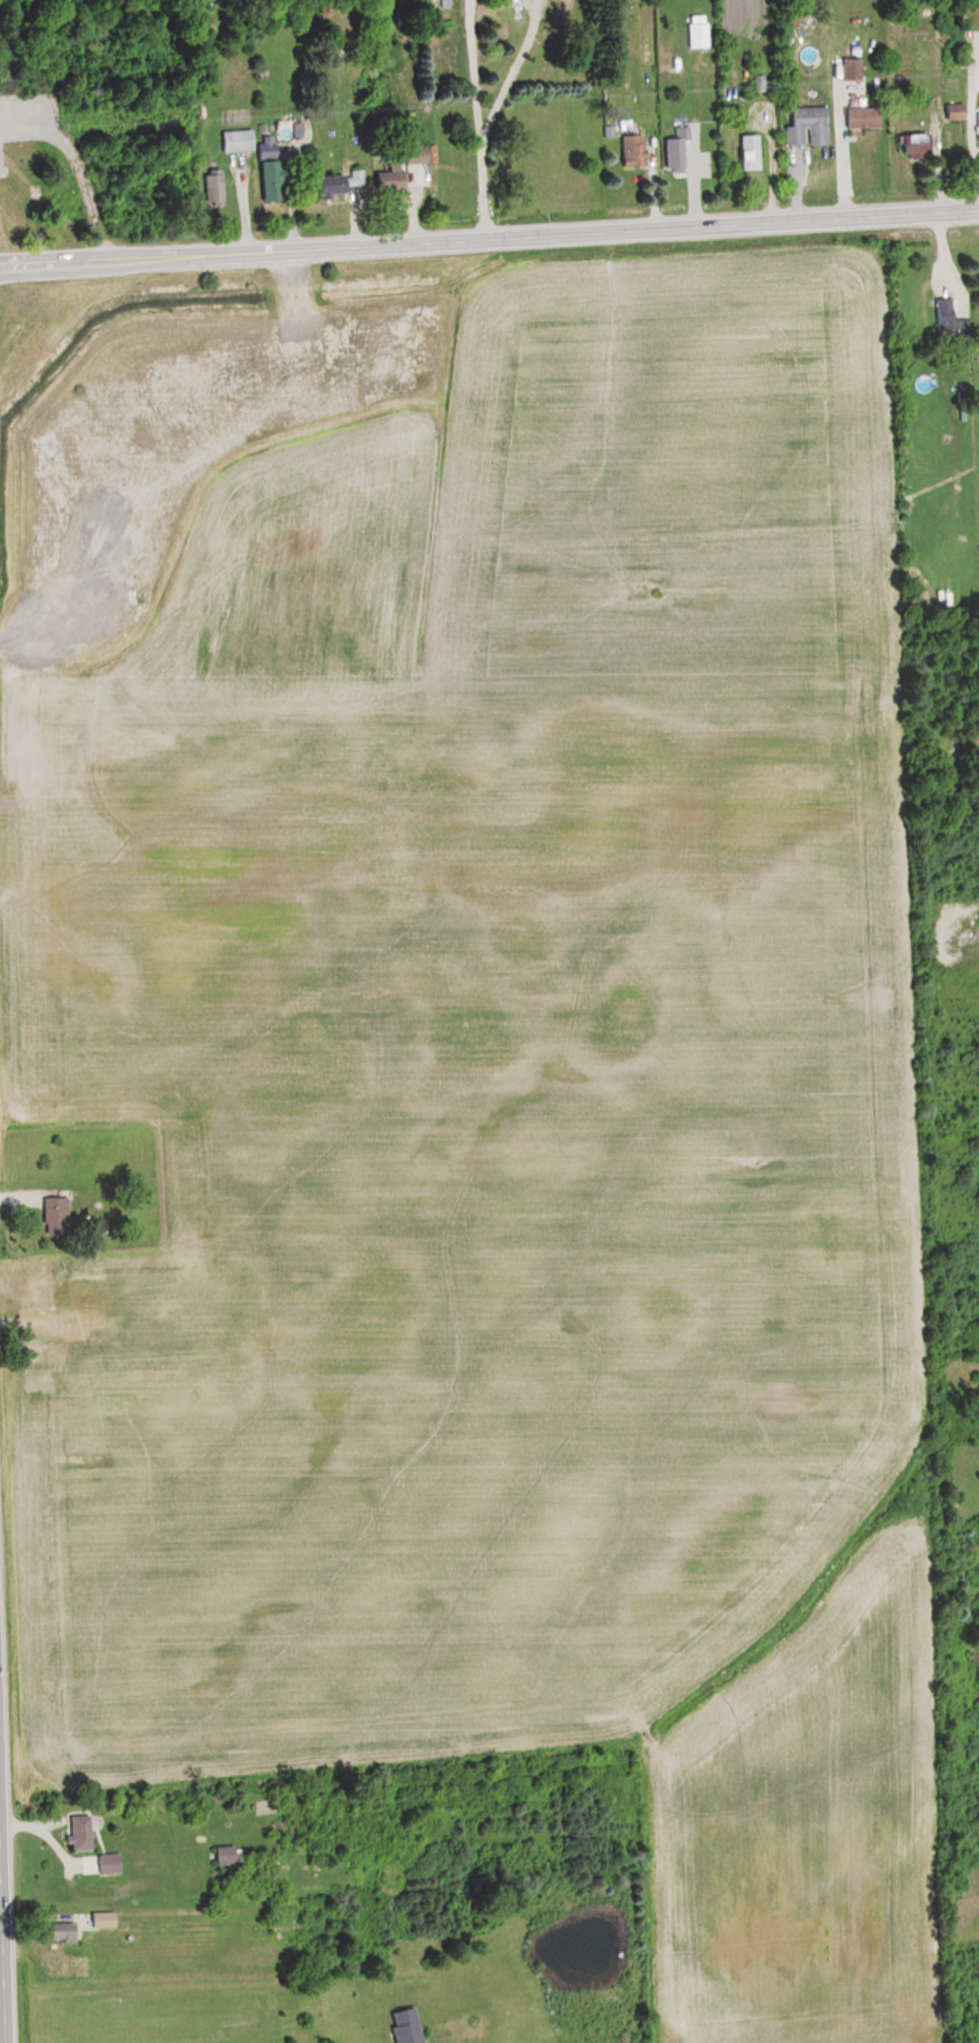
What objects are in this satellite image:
building: (692, 35)
building: (847, 69)
road: (474, 70)
road: (516, 71)
building: (857, 117)
building: (801, 125)
building: (976, 125)
road: (968, 138)
building: (243, 139)
building: (905, 145)
building: (627, 150)
building: (673, 150)
building: (743, 152)
road: (838, 152)
building: (422, 155)
road: (768, 166)
road: (77, 167)
building: (396, 178)
building: (273, 180)
building: (347, 182)
building: (215, 188)
road: (483, 190)
building: (24, 211)
road: (489, 239)
building: (944, 316)
building: (53, 1211)
building: (74, 1833)
building: (219, 1855)
building: (102, 1864)
building: (108, 1919)
building: (69, 1932)
building: (410, 2026)

